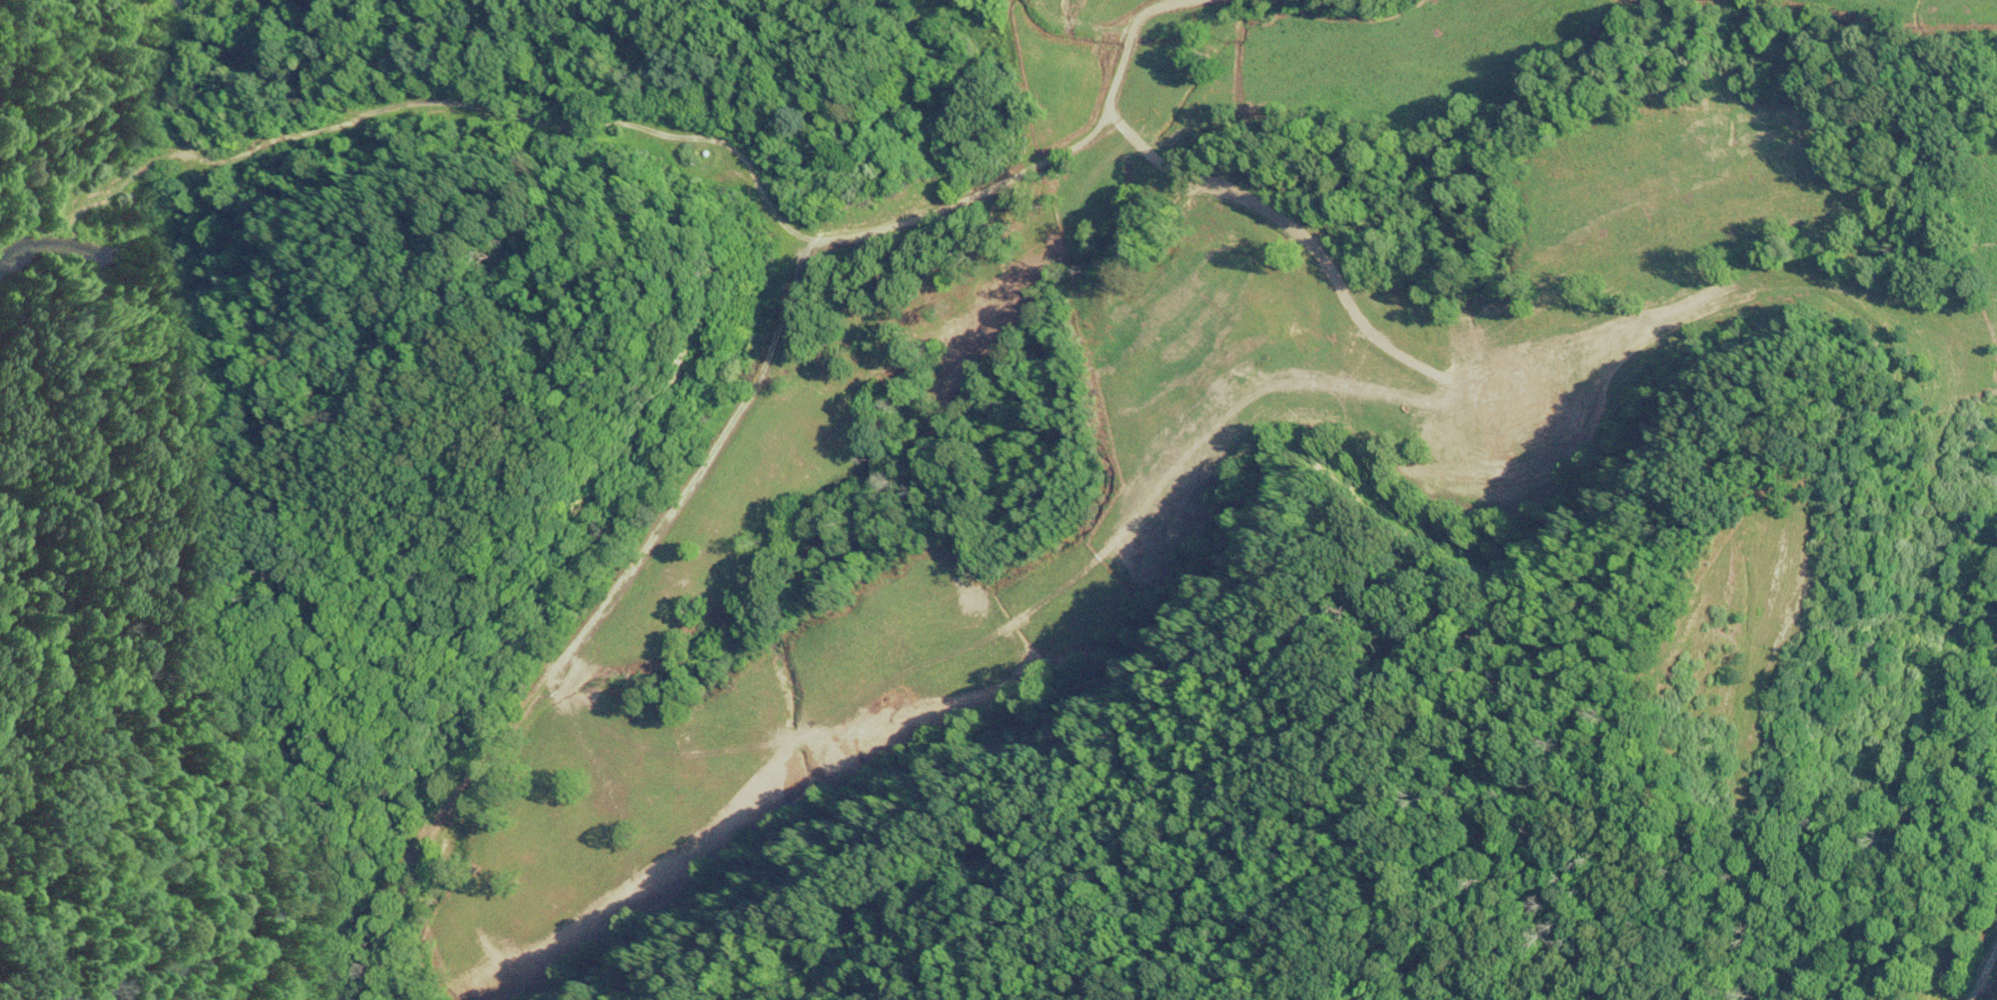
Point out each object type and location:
road: (8, 253)

